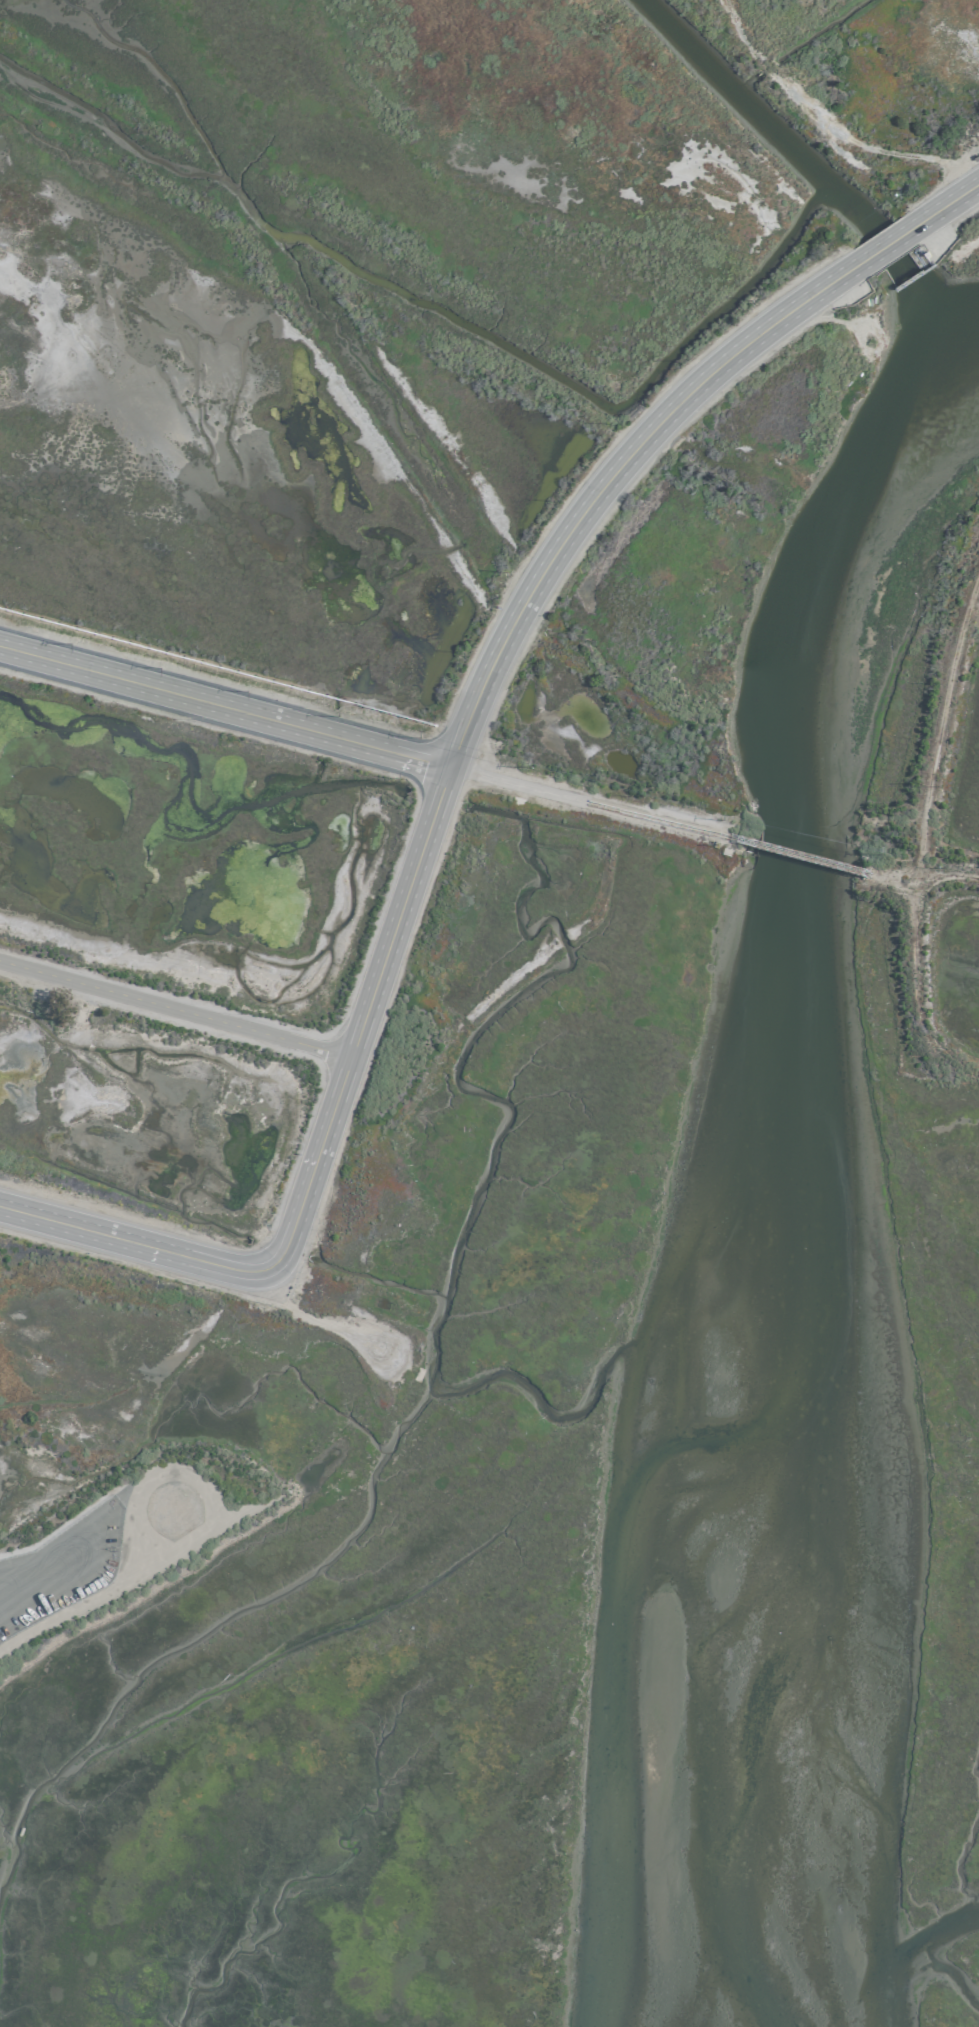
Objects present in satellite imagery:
road: (503, 638)
road: (223, 706)
road: (586, 792)
road: (924, 816)
road: (930, 872)
road: (173, 1009)
airport: (489, 1013)
road: (134, 1242)

